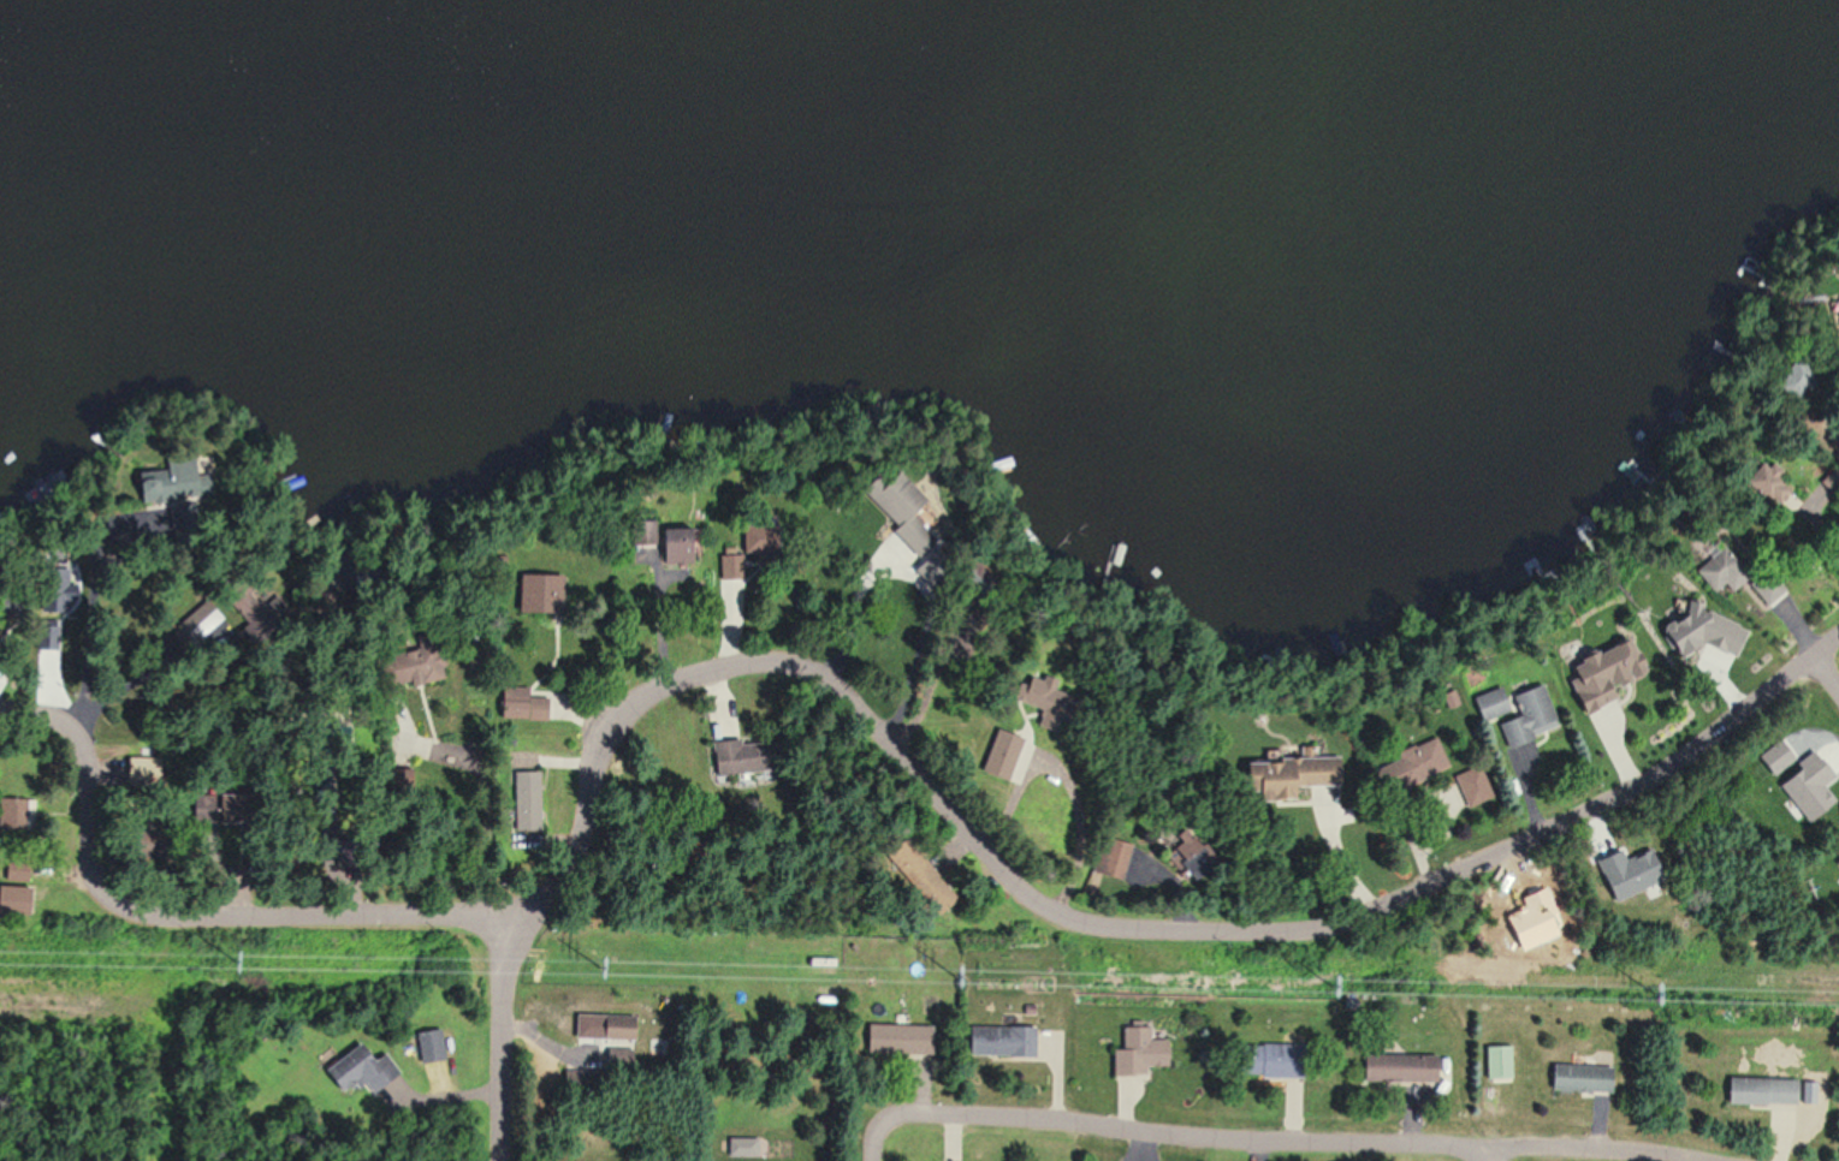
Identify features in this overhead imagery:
building: (1837, 312)
building: (635, 534)
building: (672, 558)
building: (1715, 568)
building: (1675, 591)
building: (1661, 620)
building: (195, 624)
building: (399, 669)
building: (1589, 671)
road: (1826, 675)
road: (855, 698)
building: (1040, 699)
building: (1526, 716)
building: (137, 750)
road: (517, 750)
building: (1417, 758)
building: (1280, 776)
building: (1471, 791)
building: (523, 799)
road: (1343, 852)
building: (1108, 857)
building: (915, 877)
building: (11, 901)
road: (504, 1032)
building: (603, 1032)
building: (894, 1038)
building: (996, 1041)
building: (428, 1046)
building: (1137, 1053)
building: (1266, 1061)
building: (1500, 1062)
building: (1398, 1068)
building: (357, 1070)
building: (1580, 1077)
building: (1761, 1090)
road: (877, 1141)
road: (1287, 1141)
road: (1477, 1154)

